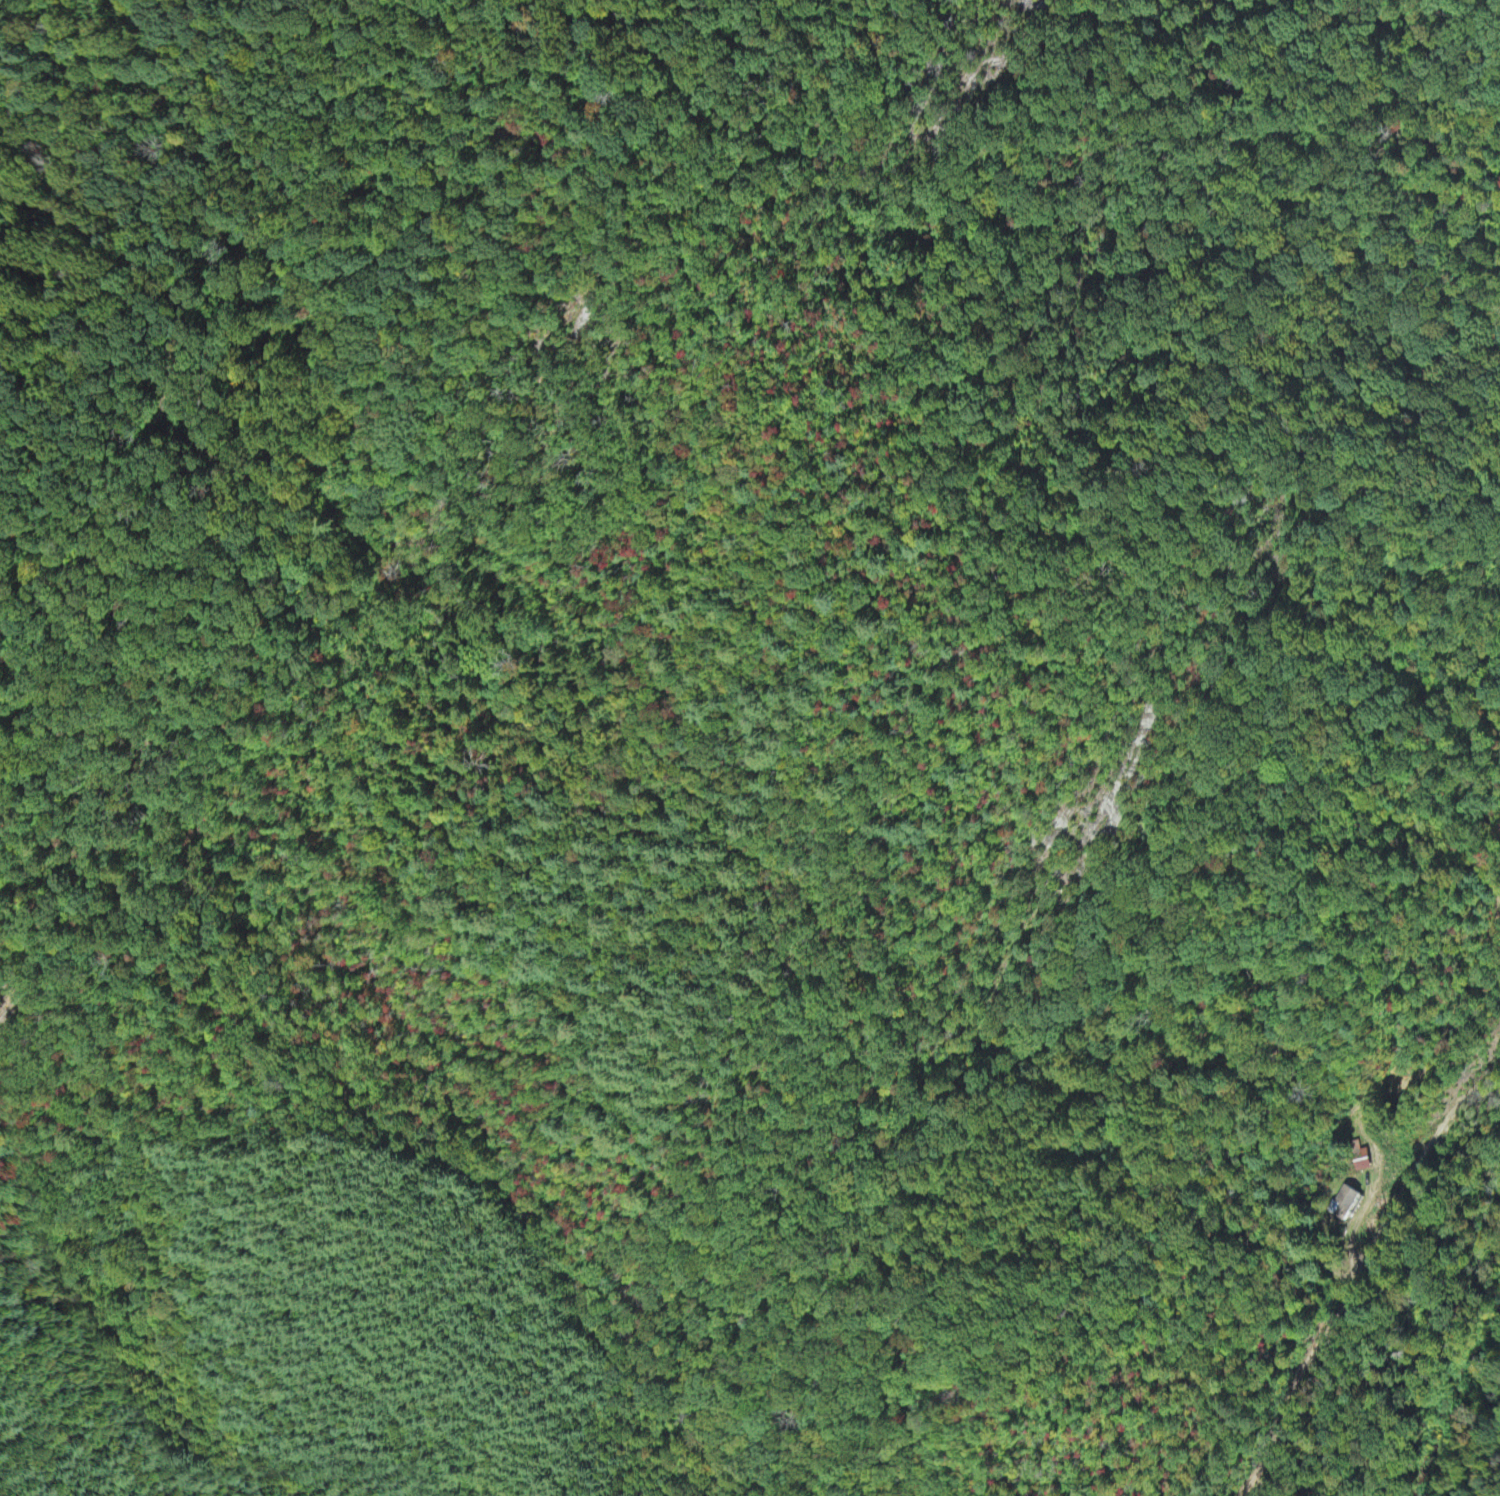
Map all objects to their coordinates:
building: (1348, 1201)
road: (1363, 1269)

